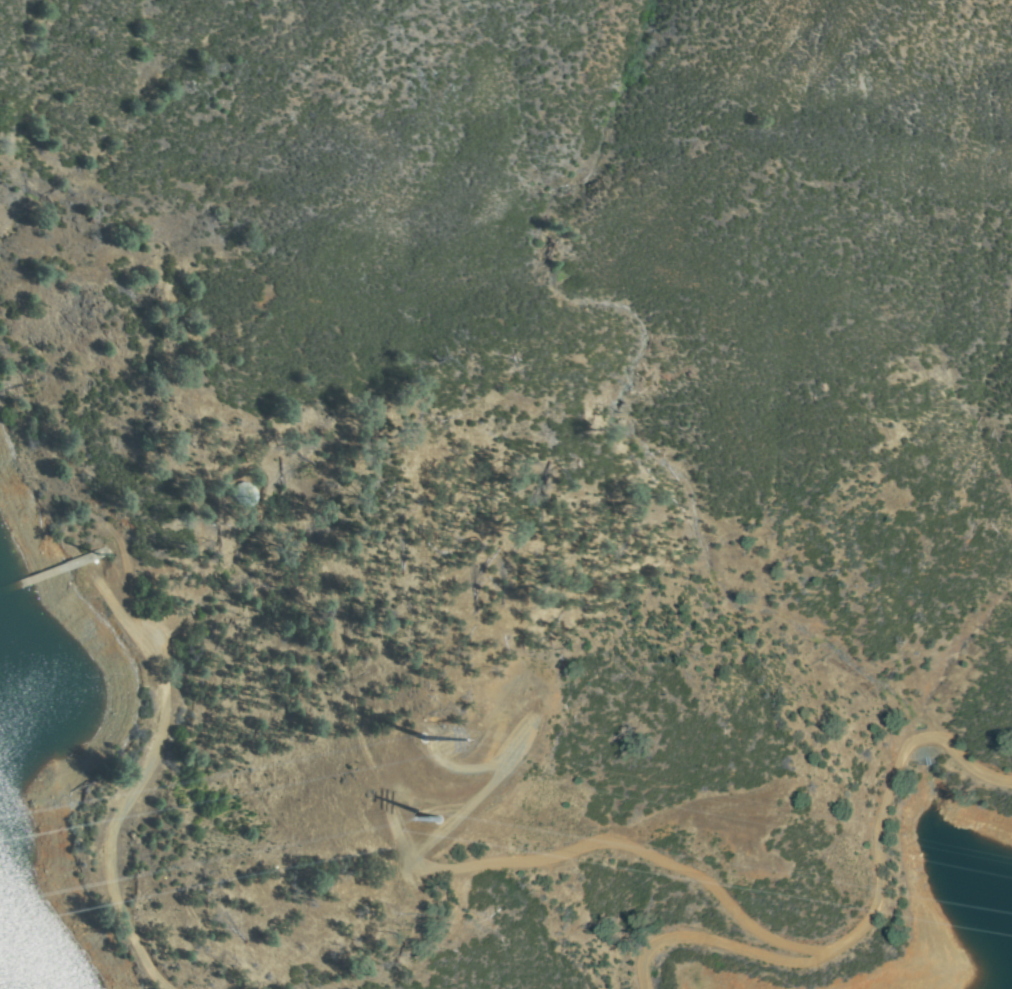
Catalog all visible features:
building: (247, 495)
power tower: (402, 748)
road: (147, 784)
power tower: (421, 819)
road: (879, 913)

